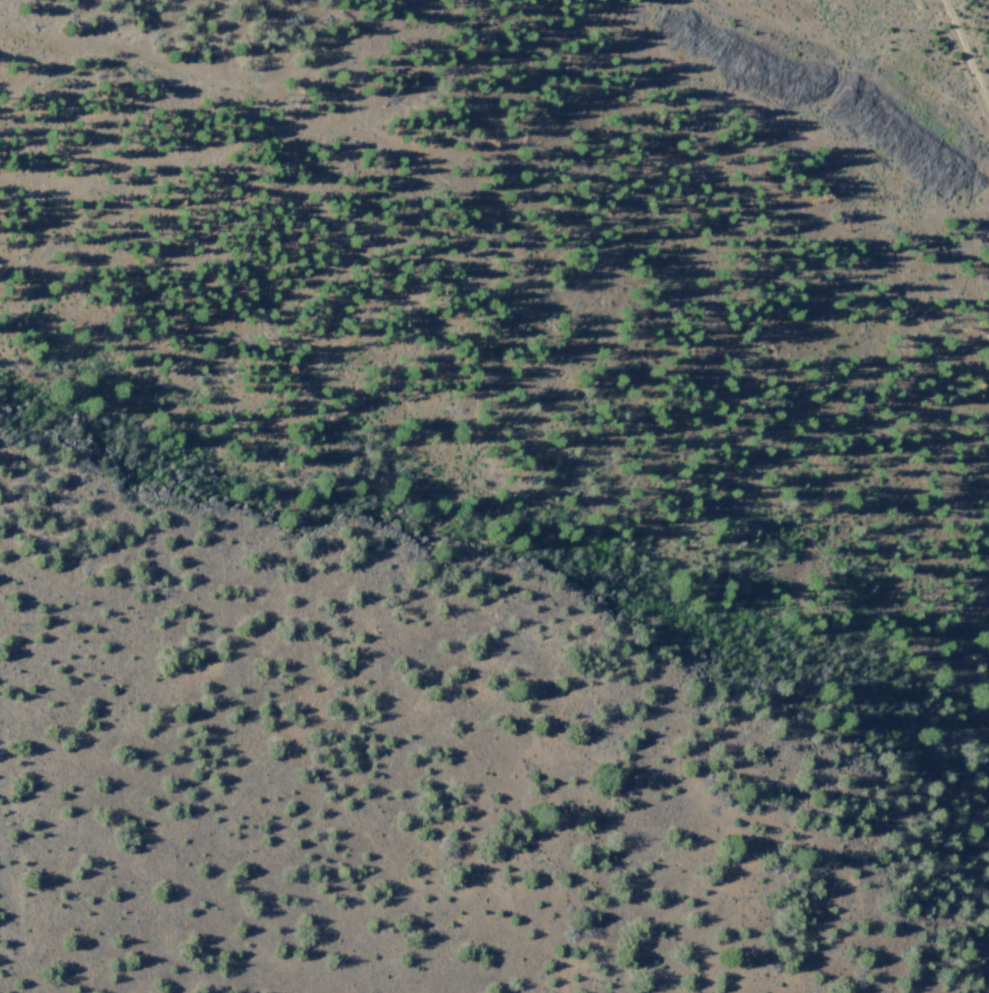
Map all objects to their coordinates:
road: (970, 43)

